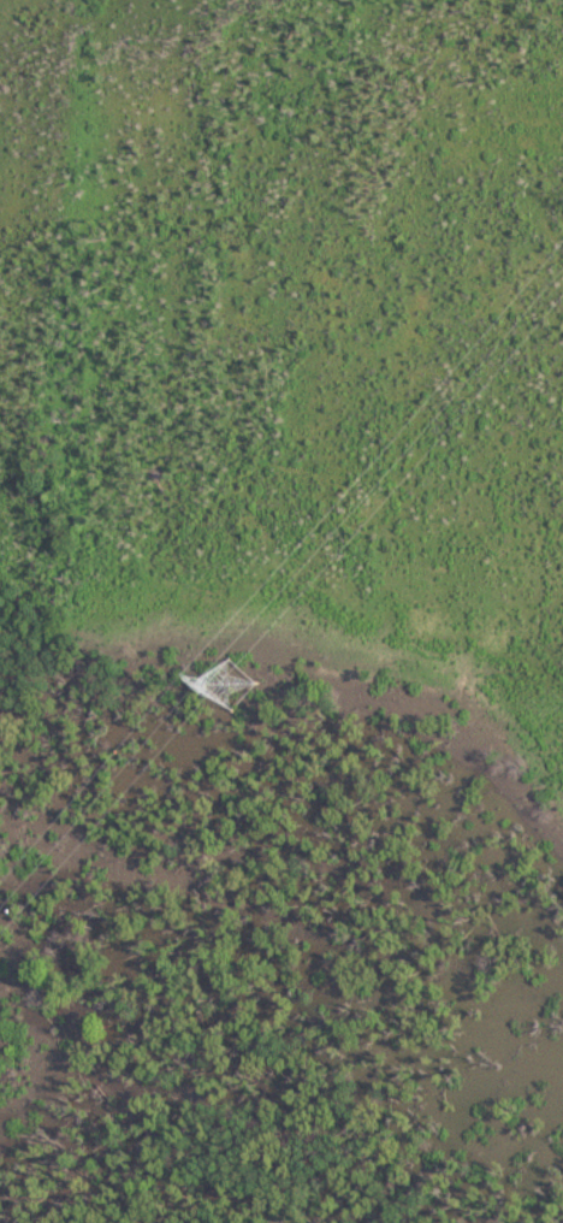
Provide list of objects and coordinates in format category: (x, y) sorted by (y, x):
power tower: (236, 686)

